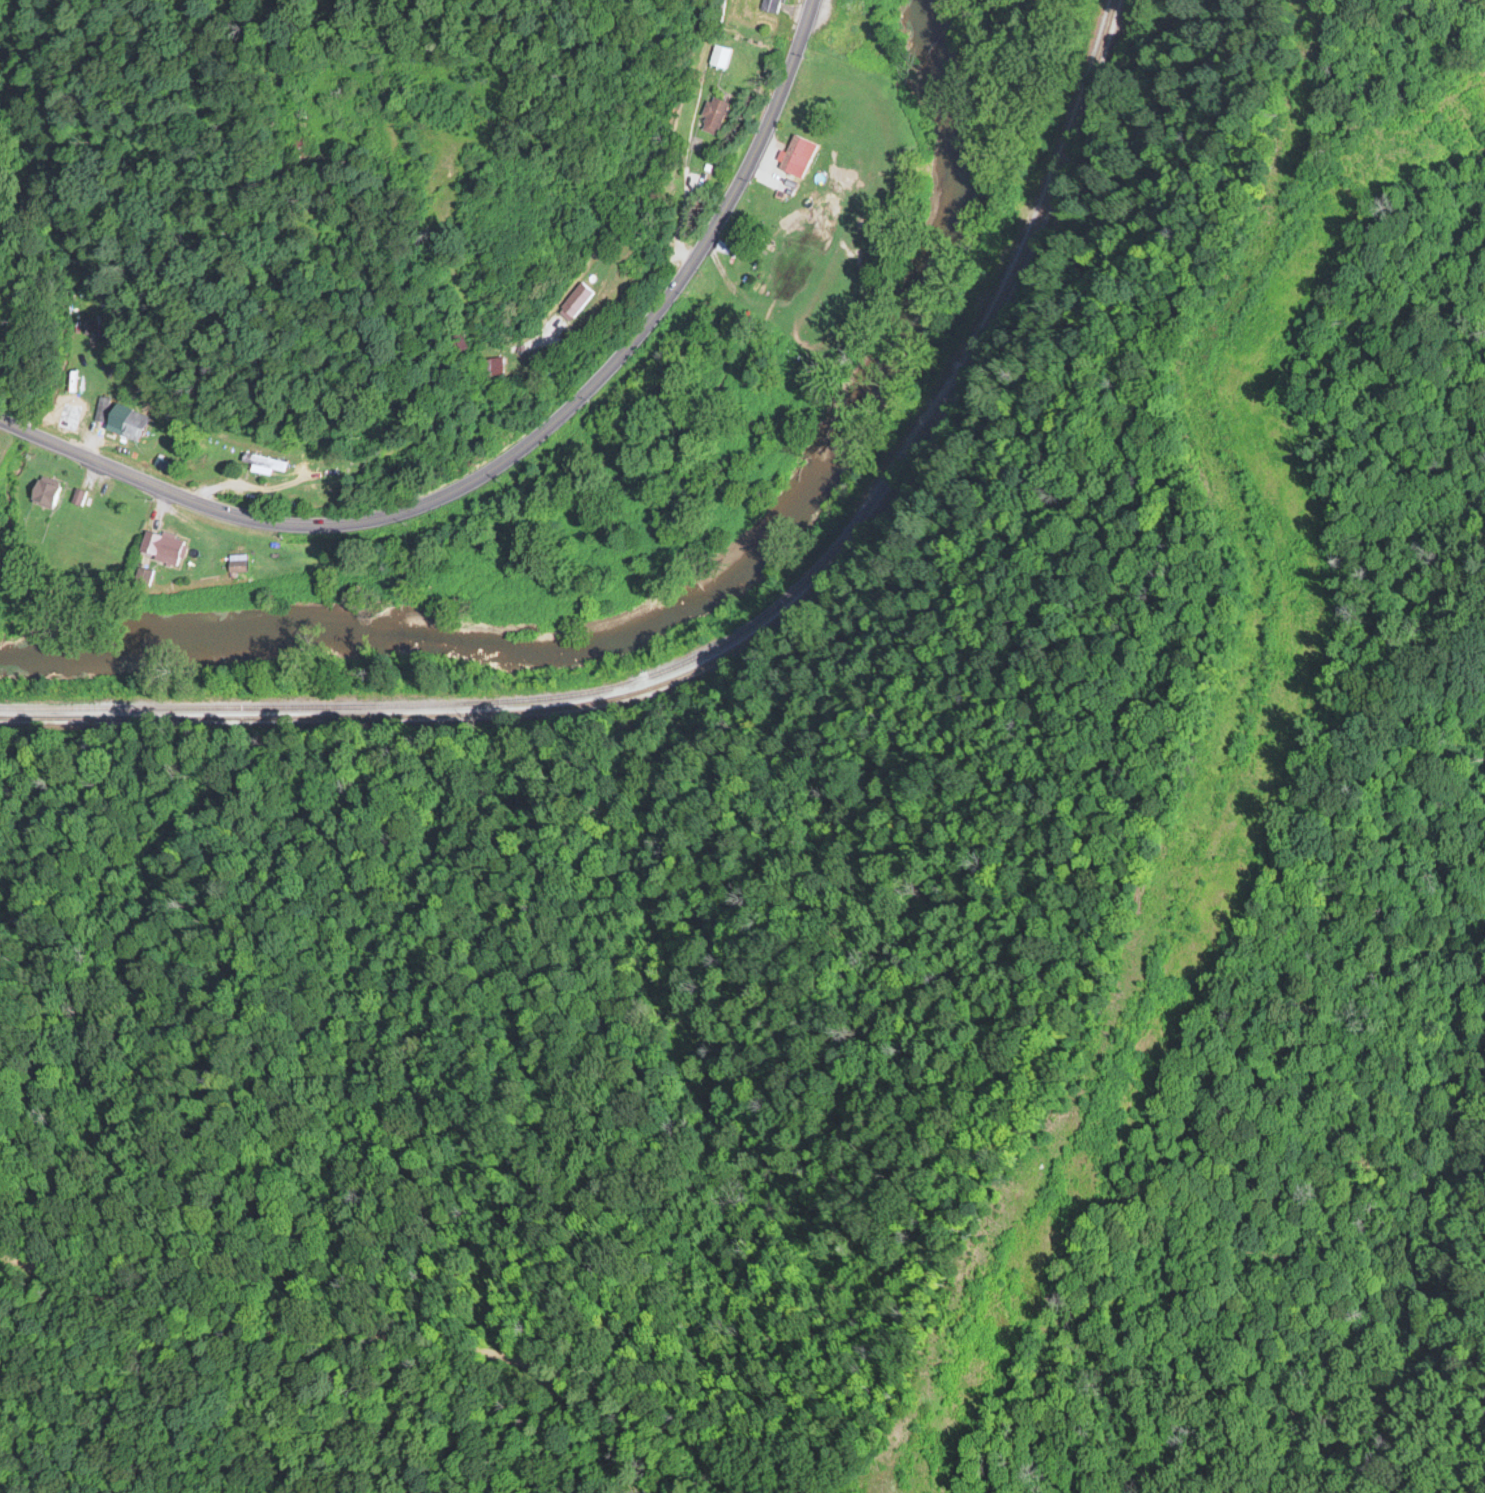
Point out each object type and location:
building: (767, 5)
building: (718, 54)
building: (712, 114)
building: (299, 149)
building: (792, 153)
building: (573, 298)
building: (461, 337)
building: (490, 365)
building: (101, 406)
building: (132, 423)
road: (512, 450)
building: (266, 460)
building: (43, 491)
building: (76, 495)
building: (159, 545)
building: (235, 561)
river: (685, 599)
railway: (730, 624)
road: (280, 1374)
road: (304, 1411)

